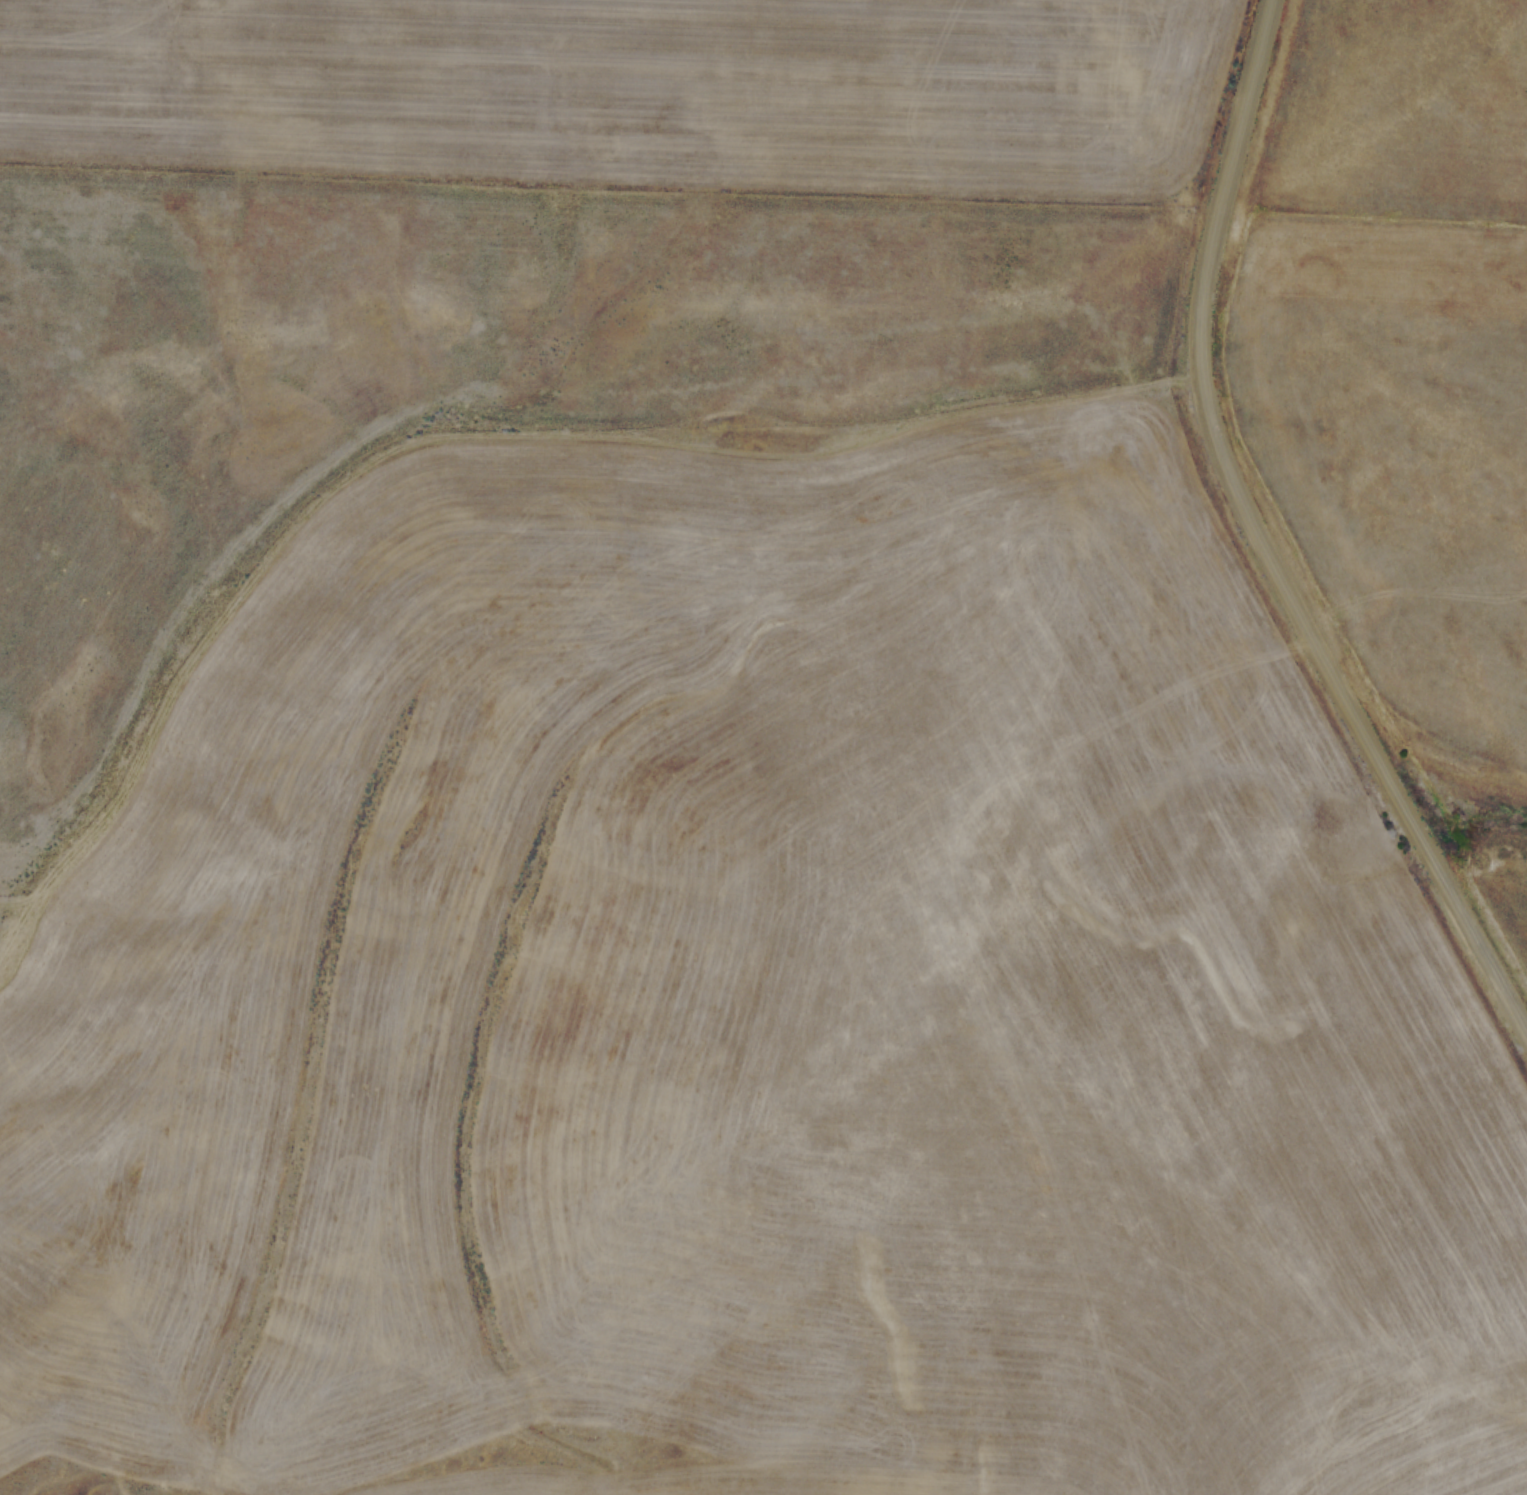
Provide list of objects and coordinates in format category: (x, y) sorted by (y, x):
road: (1258, 538)

